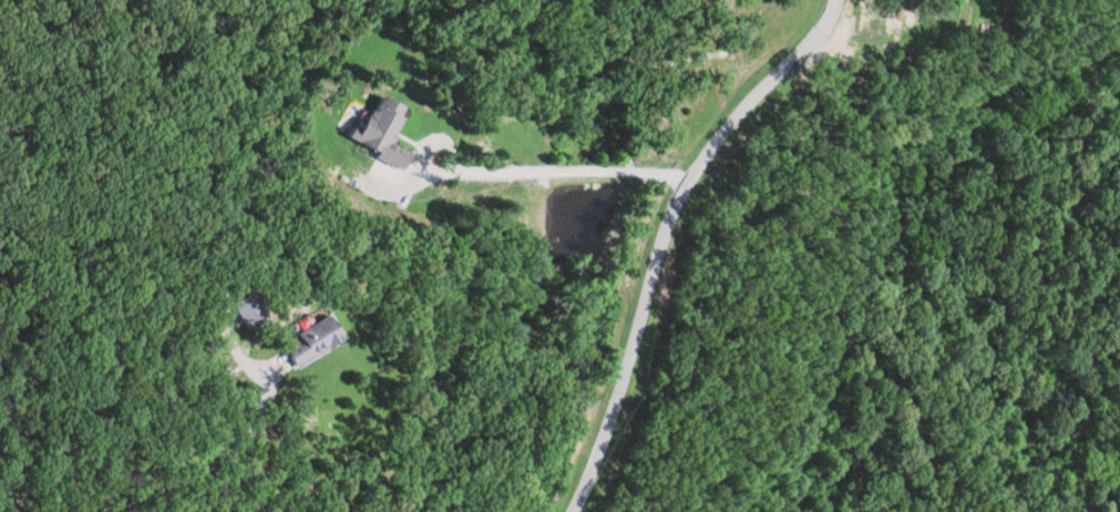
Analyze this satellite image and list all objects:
road: (664, 234)
road: (263, 441)

